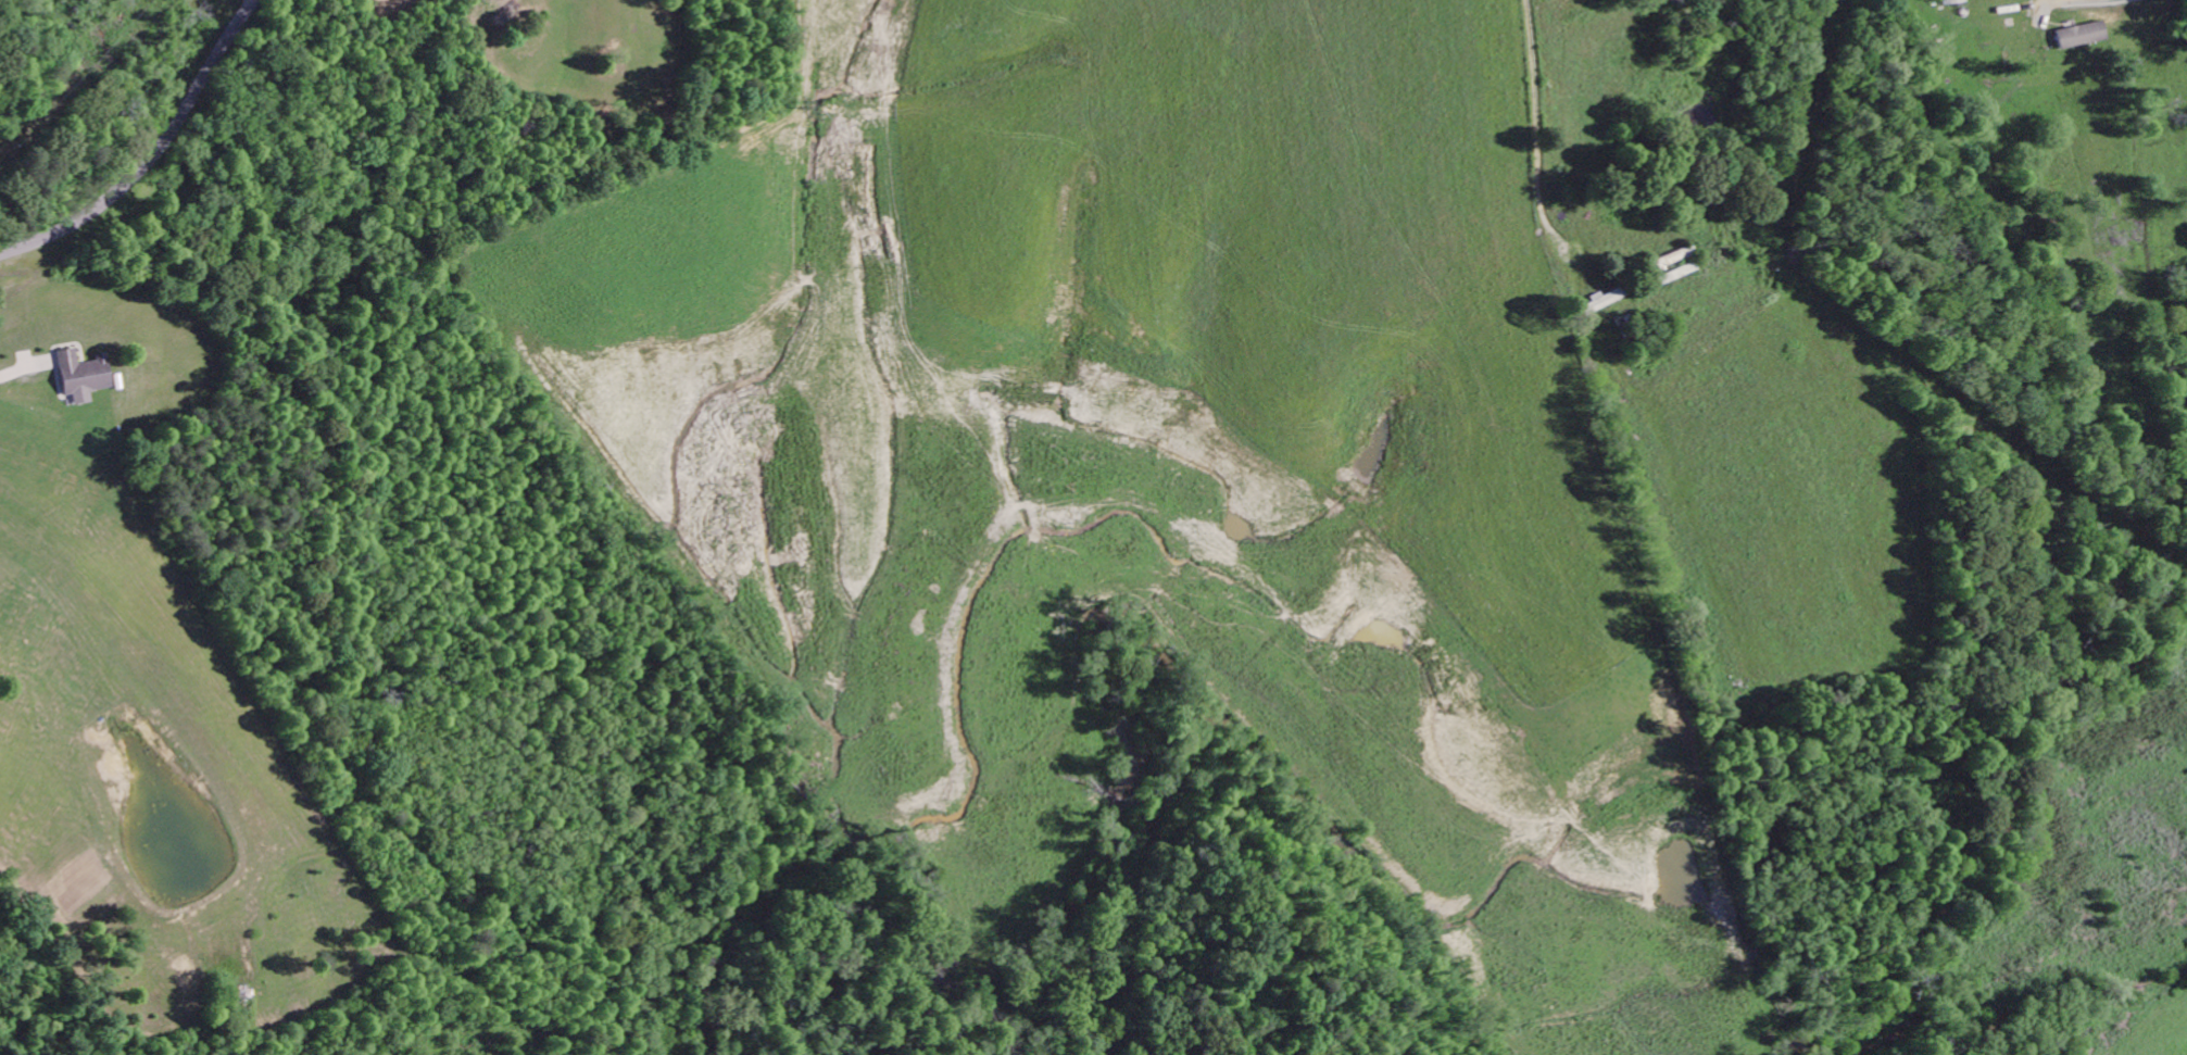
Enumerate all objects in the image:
building: (1952, 2)
building: (2082, 36)
road: (153, 156)
building: (1602, 302)
building: (79, 377)

